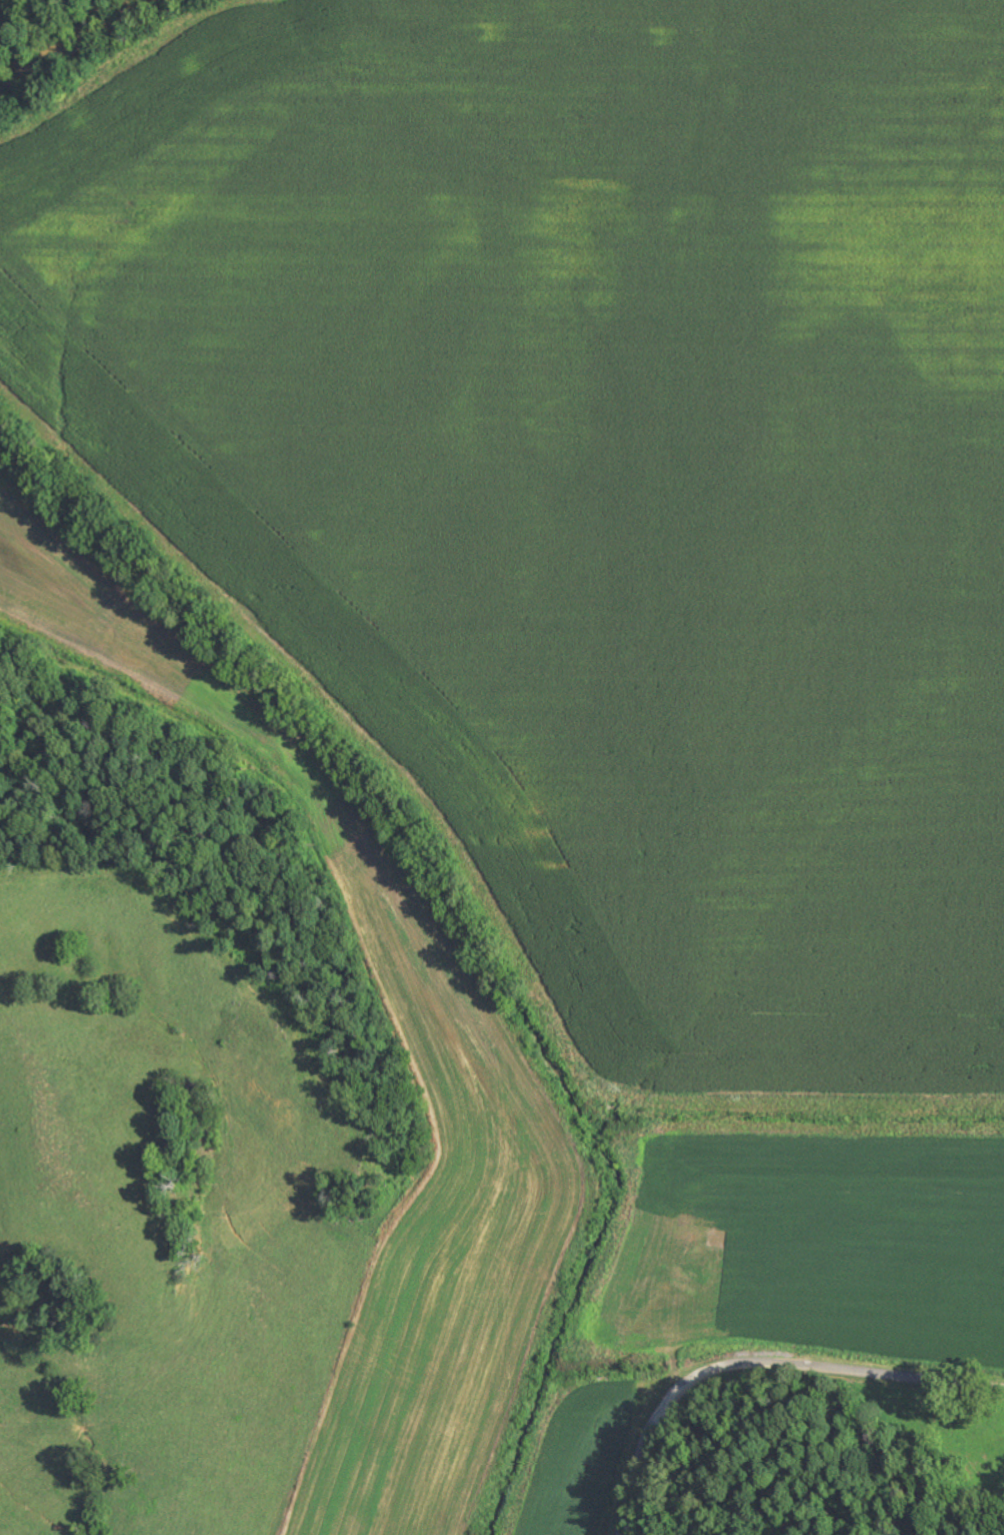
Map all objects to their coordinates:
road: (762, 1363)

